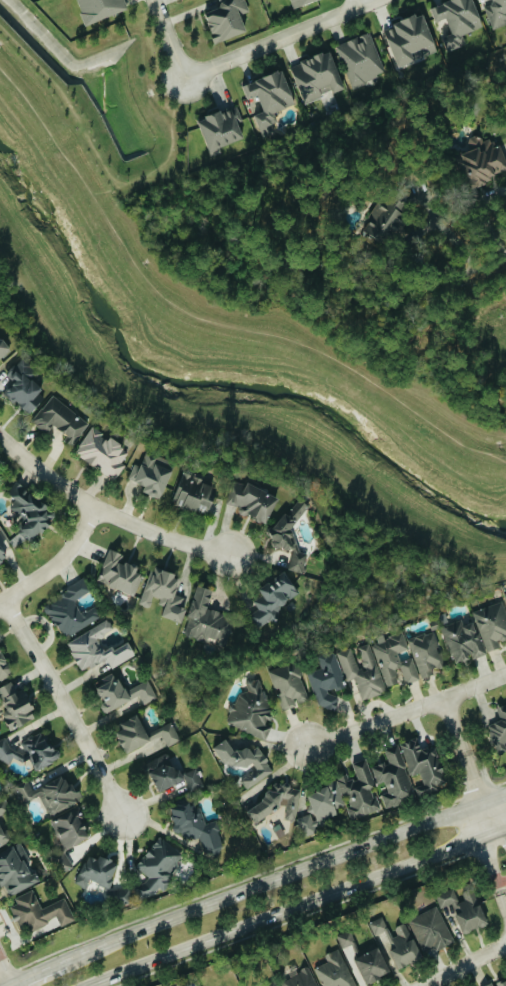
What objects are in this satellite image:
road: (359, 2)
building: (300, 3)
building: (100, 9)
building: (497, 13)
building: (226, 19)
building: (457, 20)
road: (168, 38)
road: (278, 38)
building: (408, 39)
building: (361, 59)
building: (316, 77)
building: (268, 99)
building: (221, 129)
building: (483, 160)
road: (486, 216)
building: (384, 221)
road: (488, 263)
road: (430, 287)
road: (207, 321)
road: (338, 341)
building: (3, 349)
building: (24, 386)
building: (60, 419)
road: (229, 433)
building: (102, 452)
building: (152, 473)
building: (194, 492)
building: (251, 500)
building: (29, 512)
road: (106, 514)
building: (290, 535)
building: (2, 545)
road: (54, 561)
building: (119, 573)
building: (163, 593)
building: (505, 595)
building: (275, 596)
road: (0, 599)
building: (71, 611)
building: (207, 619)
building: (492, 624)
building: (462, 641)
building: (98, 650)
building: (426, 653)
building: (379, 665)
building: (4, 667)
building: (327, 680)
building: (289, 684)
building: (110, 691)
building: (144, 691)
building: (15, 706)
road: (64, 706)
building: (251, 710)
road: (407, 711)
road: (454, 726)
building: (499, 729)
building: (144, 736)
building: (29, 751)
building: (244, 761)
building: (423, 764)
building: (163, 772)
building: (193, 778)
building: (394, 778)
building: (48, 793)
road: (479, 793)
building: (341, 798)
building: (277, 802)
road: (495, 802)
building: (3, 806)
building: (196, 825)
building: (69, 829)
road: (499, 829)
road: (499, 835)
building: (2, 838)
road: (491, 856)
building: (158, 866)
building: (16, 869)
building: (96, 871)
road: (500, 878)
road: (272, 882)
road: (500, 895)
building: (122, 896)
road: (292, 908)
building: (464, 909)
building: (39, 911)
building: (431, 930)
building: (346, 938)
building: (397, 942)
building: (353, 950)
road: (463, 964)
building: (371, 965)
building: (335, 971)
road: (6, 972)
road: (38, 974)
building: (301, 979)
building: (275, 984)
building: (497, 984)
road: (12, 985)

